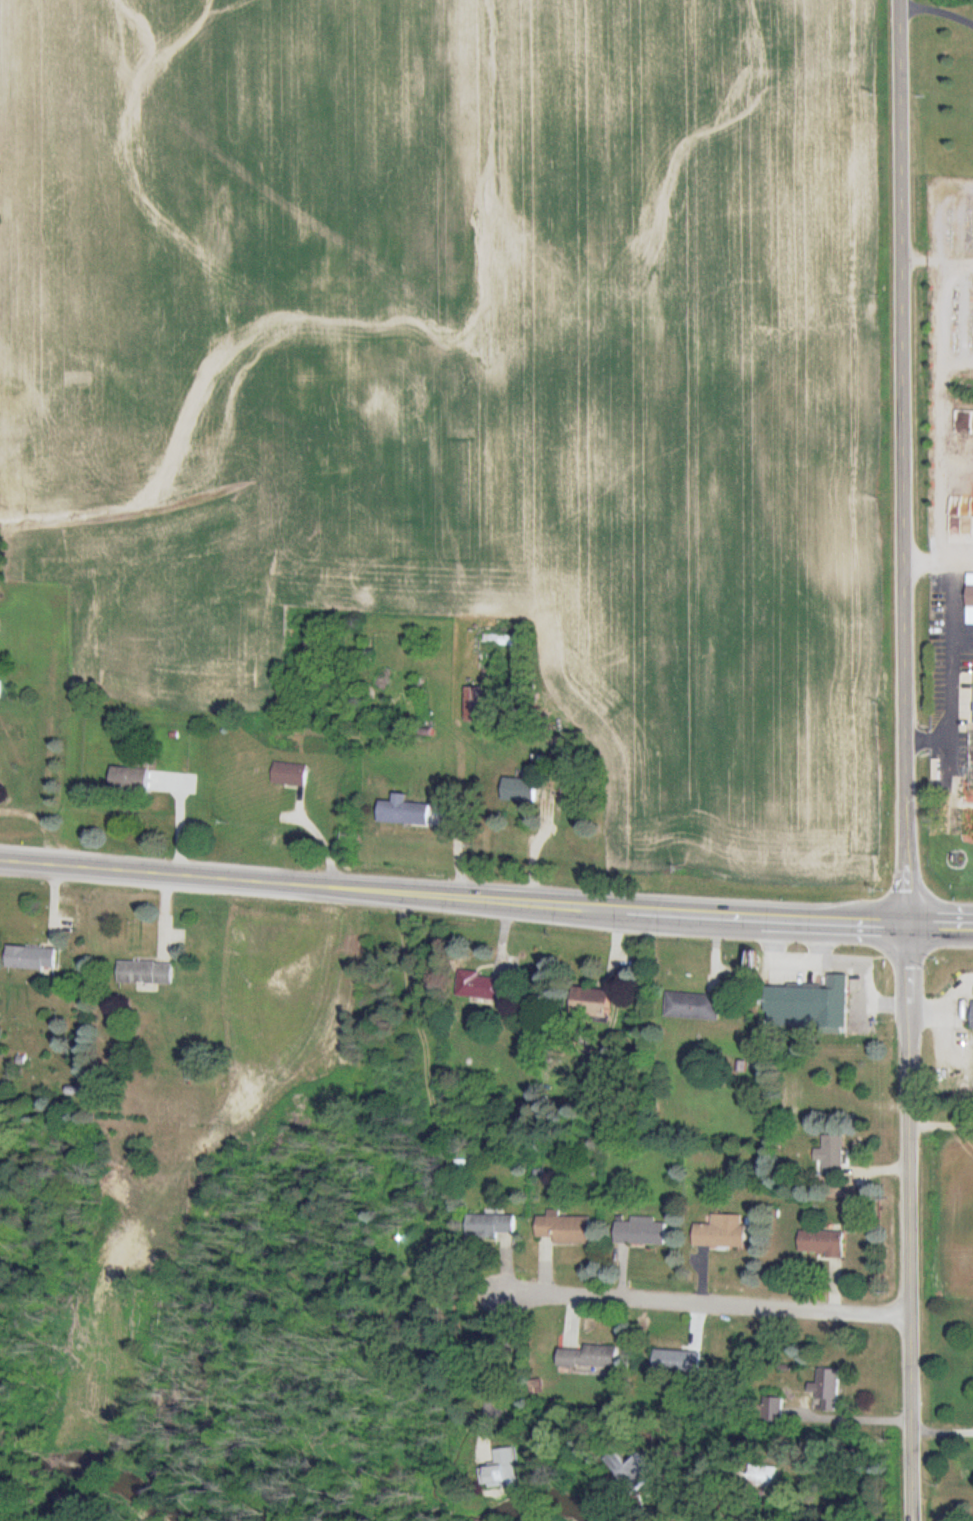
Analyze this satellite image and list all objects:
building: (970, 598)
building: (448, 627)
building: (476, 703)
road: (906, 760)
building: (290, 774)
building: (131, 778)
building: (515, 789)
building: (409, 811)
road: (453, 897)
road: (940, 924)
building: (31, 958)
building: (146, 972)
building: (474, 984)
building: (591, 999)
building: (809, 1005)
building: (692, 1006)
building: (972, 1015)
building: (75, 1091)
building: (831, 1155)
building: (491, 1226)
building: (564, 1228)
building: (640, 1231)
building: (722, 1232)
building: (821, 1243)
road: (688, 1293)
building: (590, 1357)
building: (678, 1361)
building: (827, 1388)
building: (771, 1409)
road: (849, 1417)
road: (942, 1432)
building: (499, 1470)
building: (633, 1470)

